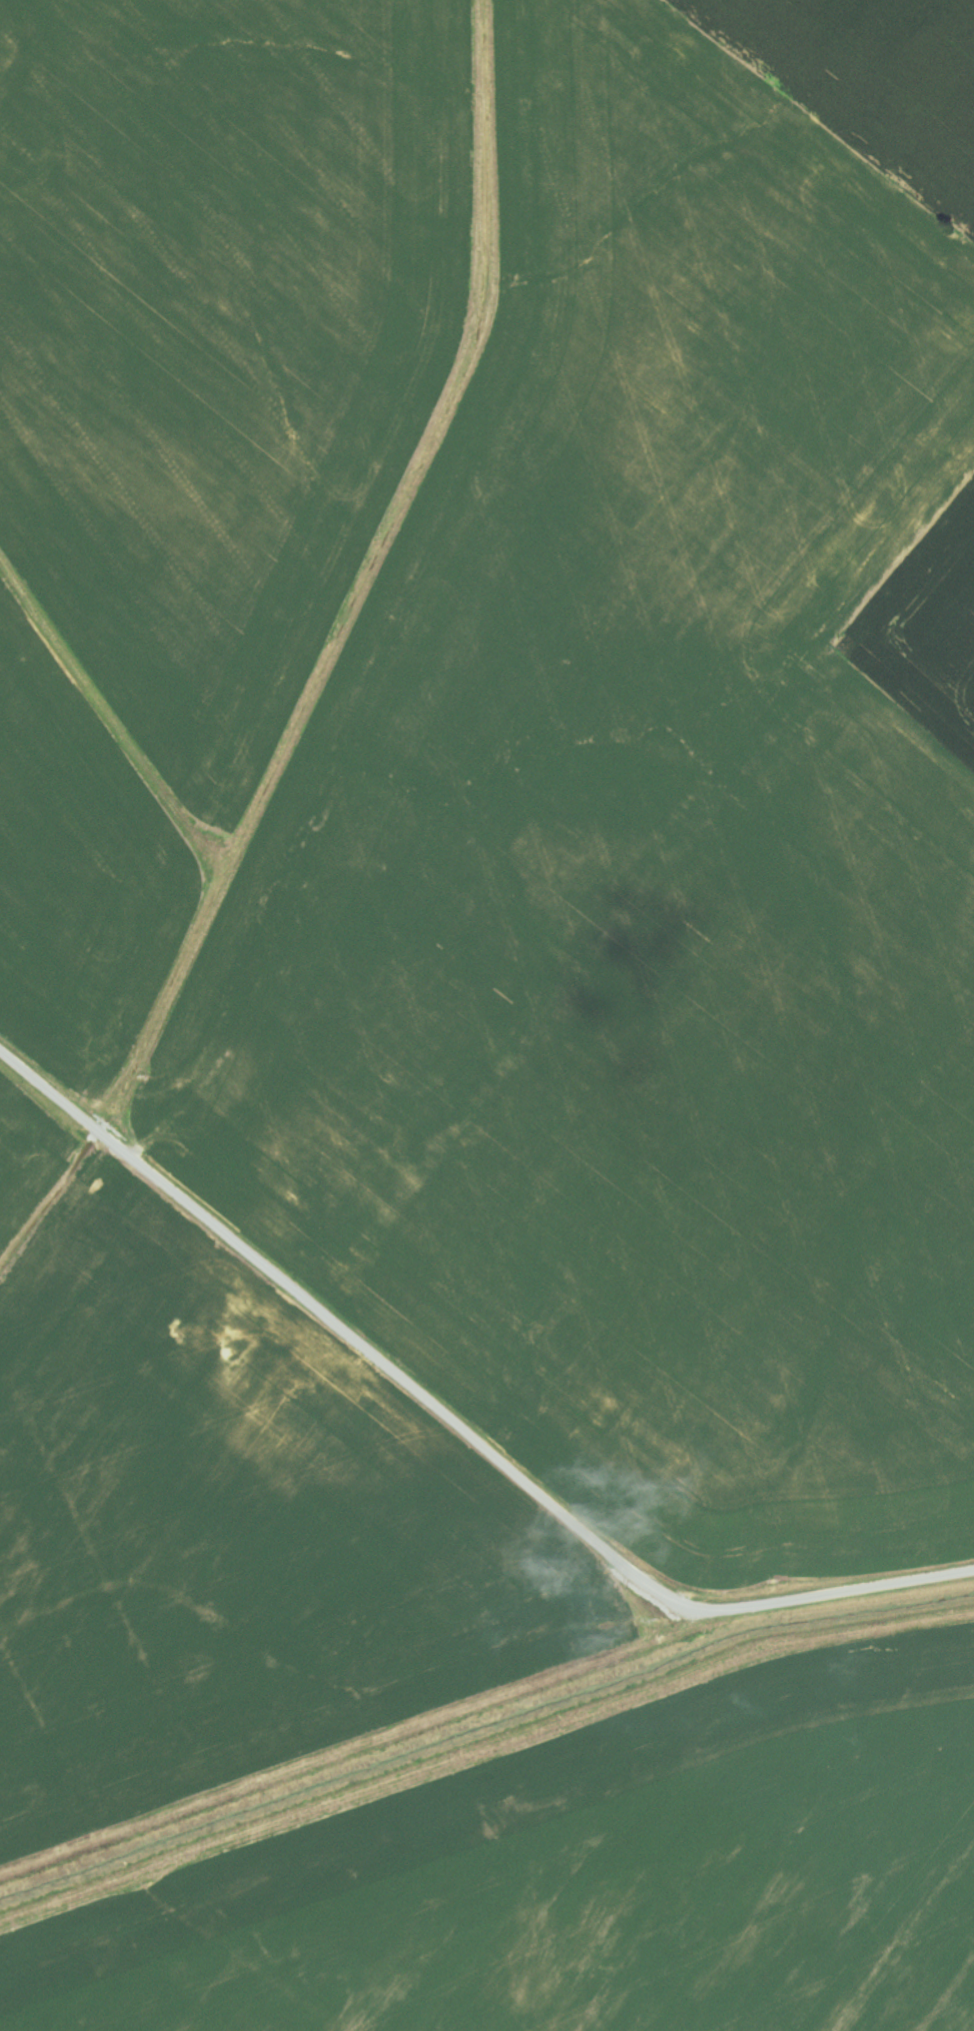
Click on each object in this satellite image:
road: (454, 1422)

